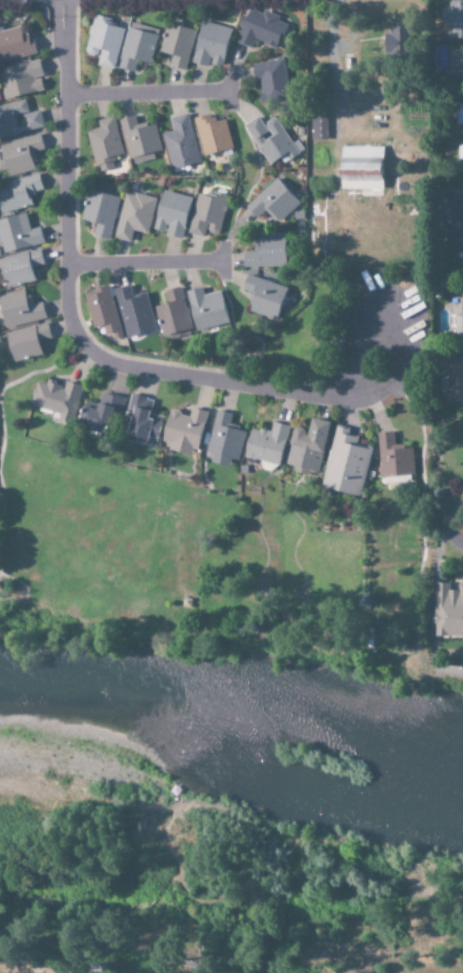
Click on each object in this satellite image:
building: (454, 18)
building: (260, 29)
building: (103, 41)
building: (14, 44)
building: (177, 44)
building: (211, 45)
building: (137, 47)
building: (456, 65)
building: (20, 79)
building: (271, 80)
road: (150, 94)
building: (459, 112)
building: (18, 119)
building: (318, 126)
building: (212, 134)
building: (139, 140)
building: (272, 140)
building: (180, 142)
building: (104, 144)
building: (459, 152)
building: (19, 155)
building: (360, 168)
building: (19, 194)
building: (273, 201)
building: (457, 211)
building: (100, 212)
building: (171, 214)
building: (207, 214)
building: (134, 215)
building: (18, 233)
building: (266, 251)
road: (145, 263)
building: (20, 268)
building: (263, 296)
building: (19, 309)
building: (206, 309)
building: (101, 310)
road: (68, 312)
building: (134, 313)
building: (172, 313)
building: (459, 320)
building: (25, 341)
building: (454, 379)
building: (56, 399)
building: (100, 412)
building: (141, 419)
building: (183, 431)
building: (224, 439)
building: (266, 444)
building: (307, 447)
building: (393, 457)
building: (345, 464)
building: (448, 611)
river: (238, 707)

